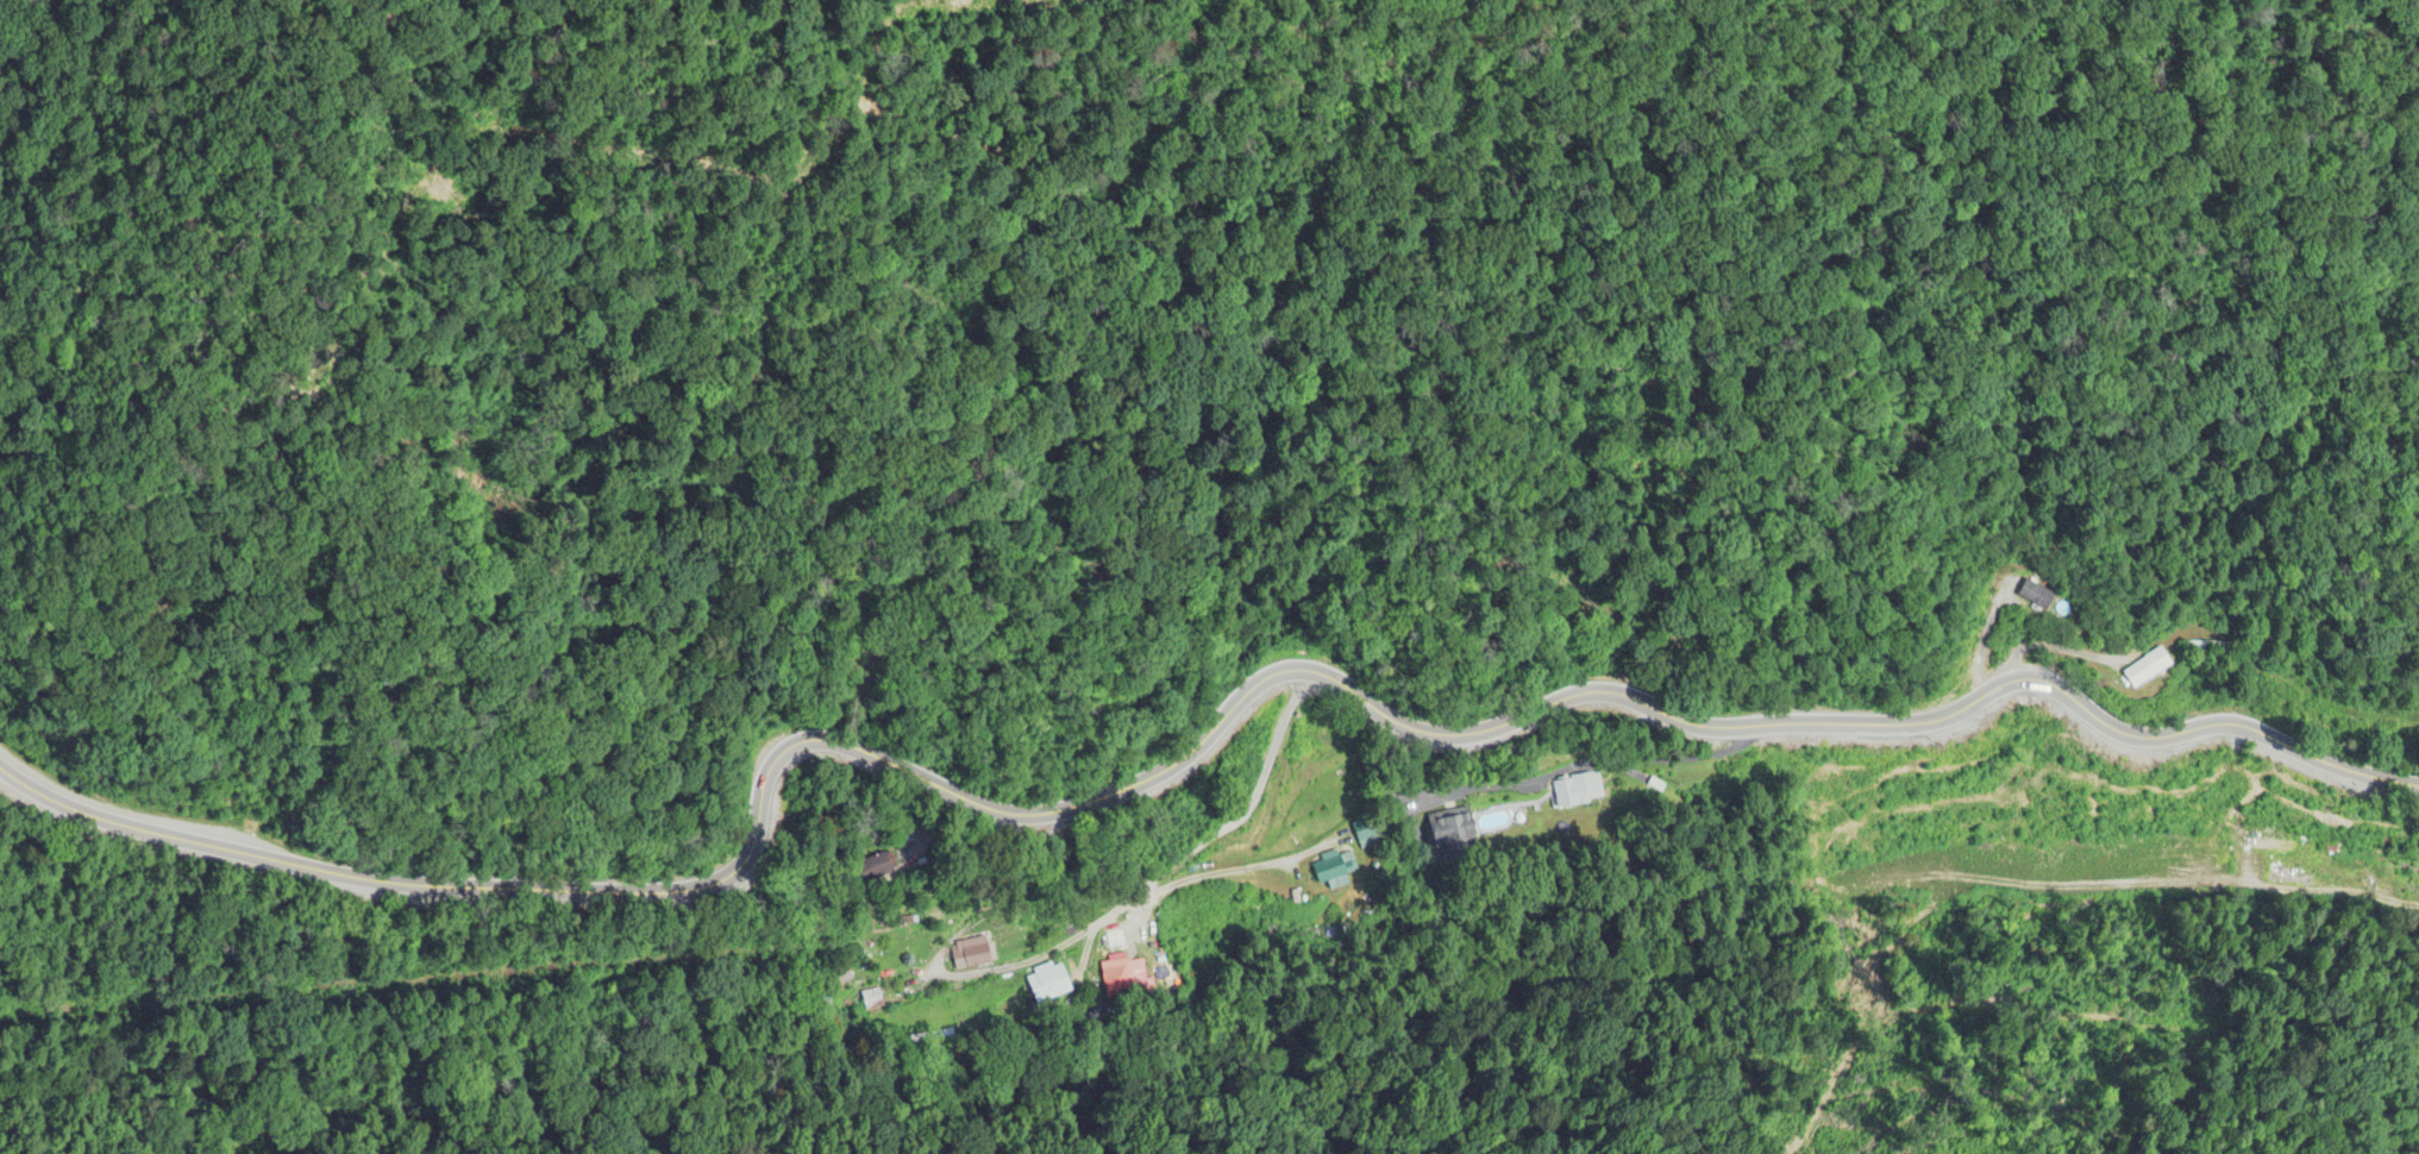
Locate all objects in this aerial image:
building: (2037, 595)
building: (2211, 647)
road: (2050, 652)
building: (2151, 670)
road: (1236, 702)
building: (1578, 791)
road: (54, 795)
building: (1452, 830)
building: (1367, 838)
building: (2271, 847)
building: (878, 866)
building: (1334, 868)
building: (2405, 871)
road: (2302, 874)
road: (1147, 893)
road: (1054, 949)
building: (972, 954)
building: (1122, 978)
building: (1049, 984)
building: (872, 1001)

